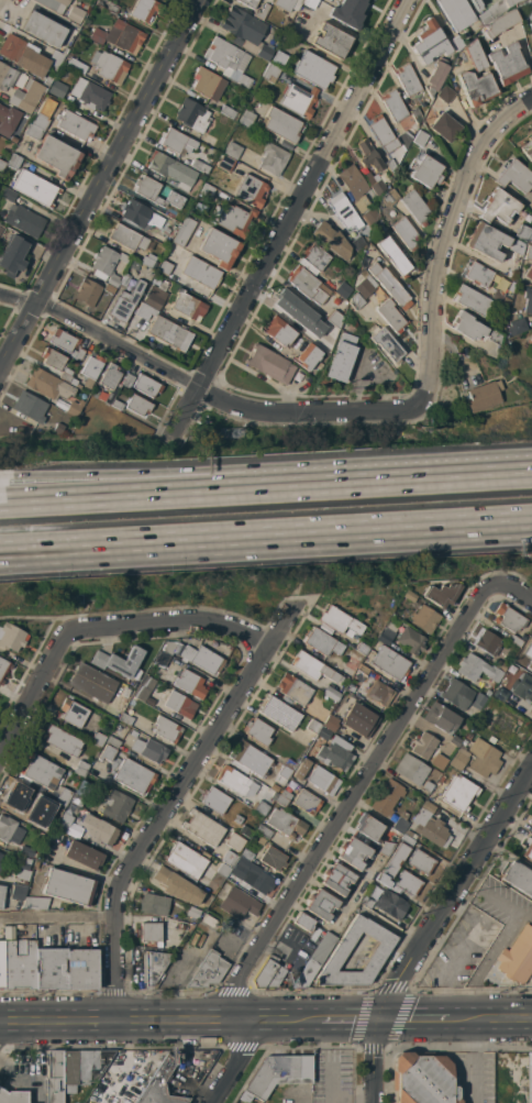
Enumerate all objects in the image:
building: (248, 2)
building: (310, 2)
building: (508, 2)
building: (530, 2)
building: (54, 4)
building: (287, 4)
building: (475, 4)
building: (108, 5)
building: (144, 9)
building: (77, 11)
building: (262, 11)
building: (490, 11)
building: (347, 12)
building: (456, 13)
building: (499, 23)
building: (530, 27)
building: (44, 29)
building: (295, 31)
building: (245, 32)
building: (120, 36)
building: (331, 41)
building: (429, 42)
building: (455, 42)
building: (27, 56)
building: (474, 56)
building: (279, 58)
building: (229, 60)
building: (74, 64)
building: (506, 64)
building: (109, 66)
building: (313, 69)
building: (270, 73)
building: (10, 77)
building: (434, 77)
building: (407, 79)
building: (47, 80)
building: (208, 84)
building: (475, 87)
building: (56, 88)
building: (88, 95)
building: (444, 95)
building: (26, 96)
building: (299, 100)
building: (394, 106)
building: (230, 112)
building: (43, 114)
building: (192, 114)
building: (414, 114)
building: (246, 119)
building: (8, 120)
building: (281, 124)
building: (76, 125)
building: (443, 126)
building: (33, 132)
building: (381, 133)
building: (406, 135)
building: (419, 137)
building: (13, 139)
building: (176, 141)
building: (528, 148)
building: (232, 150)
building: (368, 155)
building: (57, 156)
building: (273, 158)
building: (14, 161)
building: (225, 163)
building: (2, 165)
building: (390, 165)
building: (199, 166)
building: (171, 169)
building: (425, 170)
building: (513, 175)
building: (201, 176)
building: (353, 181)
building: (374, 183)
road: (100, 185)
building: (35, 188)
building: (207, 190)
building: (251, 190)
building: (156, 192)
building: (8, 195)
building: (389, 197)
building: (414, 207)
building: (498, 207)
building: (344, 211)
building: (171, 212)
building: (138, 216)
building: (370, 217)
building: (232, 218)
building: (23, 220)
road: (289, 220)
building: (1, 230)
building: (165, 230)
building: (184, 231)
building: (522, 232)
building: (406, 233)
building: (129, 238)
building: (530, 238)
building: (331, 240)
building: (486, 241)
building: (357, 243)
road: (446, 243)
building: (517, 246)
building: (219, 247)
building: (529, 252)
building: (13, 254)
building: (394, 256)
building: (314, 257)
building: (151, 261)
building: (108, 265)
building: (134, 265)
building: (165, 267)
building: (335, 267)
building: (201, 272)
building: (477, 273)
building: (529, 273)
building: (124, 279)
building: (351, 279)
building: (389, 284)
building: (308, 285)
building: (366, 285)
building: (343, 289)
building: (91, 290)
building: (156, 295)
building: (498, 295)
building: (473, 299)
building: (528, 300)
building: (126, 301)
building: (356, 301)
building: (289, 305)
building: (186, 308)
building: (143, 310)
building: (502, 311)
building: (390, 316)
building: (335, 318)
building: (518, 326)
building: (474, 329)
building: (279, 331)
building: (169, 333)
building: (530, 339)
building: (64, 340)
building: (324, 341)
building: (387, 344)
building: (78, 353)
building: (308, 356)
building: (342, 356)
building: (53, 359)
building: (269, 364)
building: (91, 367)
building: (67, 374)
building: (111, 375)
building: (128, 380)
building: (43, 383)
building: (75, 383)
building: (146, 385)
road: (199, 389)
building: (484, 395)
building: (110, 398)
building: (118, 405)
building: (138, 405)
building: (30, 406)
building: (74, 408)
building: (58, 428)
road: (456, 476)
road: (190, 479)
road: (190, 492)
road: (384, 528)
road: (118, 543)
road: (118, 552)
road: (513, 589)
building: (443, 593)
building: (409, 598)
road: (38, 617)
building: (424, 618)
building: (509, 618)
building: (339, 620)
road: (171, 622)
building: (11, 637)
building: (386, 637)
building: (411, 640)
building: (516, 641)
building: (323, 642)
building: (488, 642)
building: (168, 647)
building: (362, 648)
building: (162, 659)
building: (202, 659)
building: (391, 663)
building: (115, 664)
building: (530, 664)
building: (501, 665)
building: (313, 666)
building: (3, 669)
building: (477, 669)
building: (92, 682)
building: (190, 683)
building: (523, 686)
building: (350, 687)
building: (370, 687)
building: (144, 688)
building: (293, 688)
building: (126, 692)
building: (331, 693)
building: (457, 694)
building: (500, 694)
road: (33, 696)
building: (479, 699)
building: (180, 704)
building: (73, 712)
building: (280, 713)
building: (441, 717)
building: (126, 718)
building: (358, 719)
building: (331, 723)
building: (505, 724)
building: (313, 726)
building: (477, 728)
building: (167, 729)
building: (258, 731)
building: (133, 732)
building: (324, 734)
building: (468, 736)
building: (98, 739)
building: (63, 740)
building: (455, 740)
building: (112, 742)
building: (423, 744)
building: (149, 749)
building: (107, 752)
building: (335, 753)
building: (459, 758)
building: (483, 758)
building: (251, 759)
building: (439, 762)
building: (289, 763)
building: (81, 769)
building: (411, 769)
building: (42, 771)
building: (281, 774)
building: (134, 775)
building: (295, 776)
building: (319, 776)
building: (236, 781)
building: (274, 785)
building: (428, 785)
building: (459, 793)
building: (274, 795)
building: (64, 796)
building: (79, 797)
building: (282, 797)
building: (387, 797)
building: (215, 799)
road: (354, 799)
building: (24, 801)
building: (307, 802)
building: (52, 804)
road: (170, 804)
building: (117, 805)
building: (259, 807)
building: (239, 819)
building: (65, 821)
building: (48, 823)
building: (286, 823)
building: (401, 823)
building: (431, 826)
building: (5, 827)
building: (202, 827)
building: (368, 827)
building: (245, 830)
building: (264, 831)
building: (104, 834)
building: (410, 835)
building: (407, 839)
building: (261, 840)
building: (234, 841)
building: (387, 848)
building: (528, 849)
building: (25, 851)
building: (352, 852)
building: (1, 854)
building: (84, 854)
road: (507, 854)
building: (246, 856)
building: (229, 858)
building: (274, 858)
building: (185, 859)
building: (421, 861)
building: (391, 864)
building: (1, 868)
building: (23, 869)
building: (219, 875)
building: (252, 875)
building: (336, 878)
building: (518, 878)
building: (408, 882)
building: (177, 885)
building: (68, 887)
building: (19, 892)
building: (1, 894)
building: (366, 902)
building: (35, 903)
building: (154, 903)
building: (239, 903)
building: (320, 904)
building: (390, 904)
building: (192, 912)
road: (524, 915)
road: (57, 919)
building: (208, 919)
building: (303, 922)
road: (431, 924)
building: (180, 926)
building: (149, 931)
building: (163, 931)
road: (498, 946)
building: (336, 956)
building: (517, 956)
building: (314, 959)
building: (1, 963)
building: (19, 963)
building: (49, 968)
building: (80, 969)
building: (152, 969)
building: (209, 971)
building: (268, 973)
road: (529, 1012)
road: (432, 1019)
road: (507, 1019)
road: (347, 1021)
traffic signals: (384, 1021)
road: (155, 1022)
road: (4, 1029)
road: (472, 1060)
road: (241, 1061)
building: (82, 1067)
building: (280, 1072)
parking lot: (332, 1076)
building: (54, 1077)
building: (530, 1078)
building: (424, 1079)
road: (332, 1084)
building: (160, 1085)
building: (13, 1096)
road: (353, 1100)

